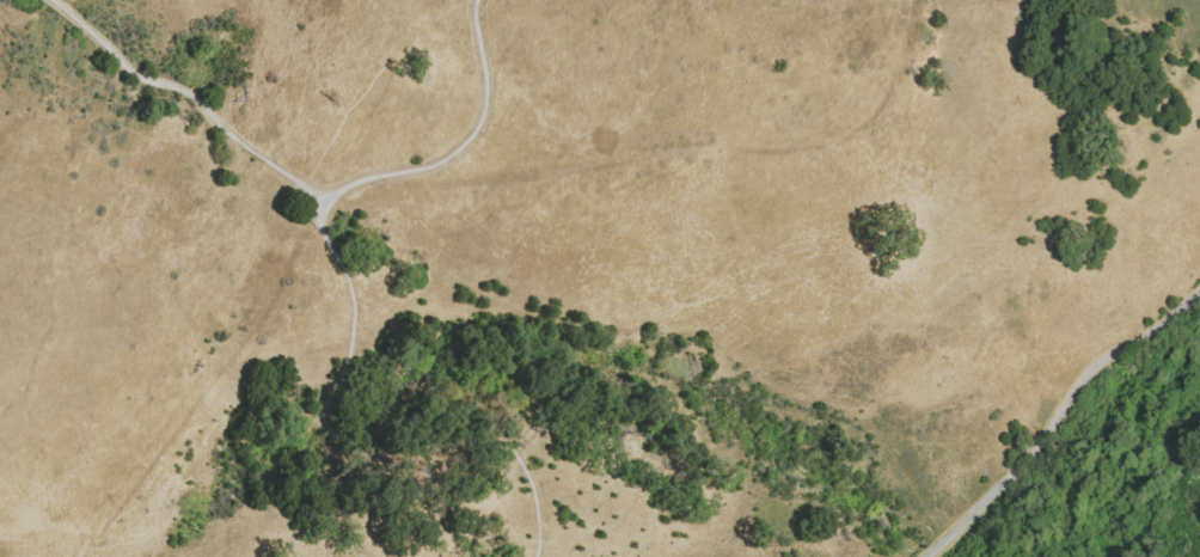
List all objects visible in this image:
road: (192, 93)
road: (460, 152)
road: (1057, 416)
road: (382, 427)

